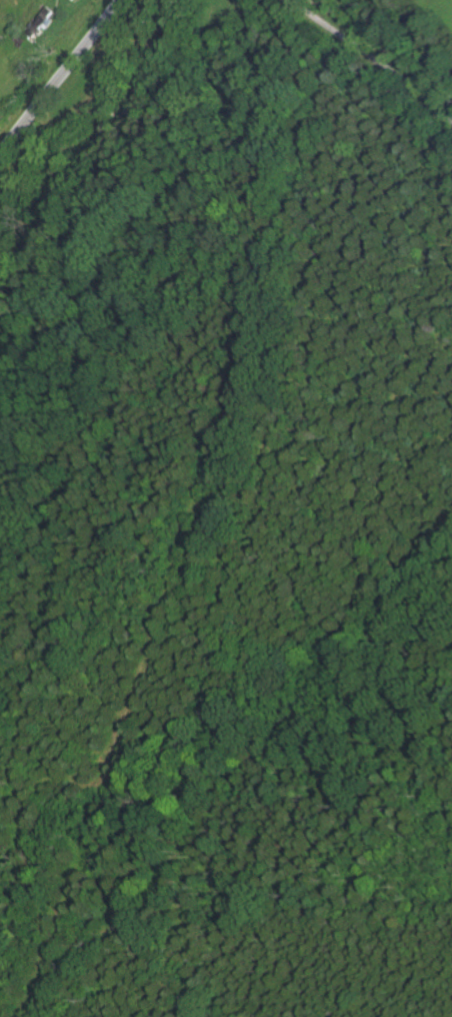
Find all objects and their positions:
building: (41, 22)
building: (20, 40)
road: (373, 58)
road: (58, 74)

